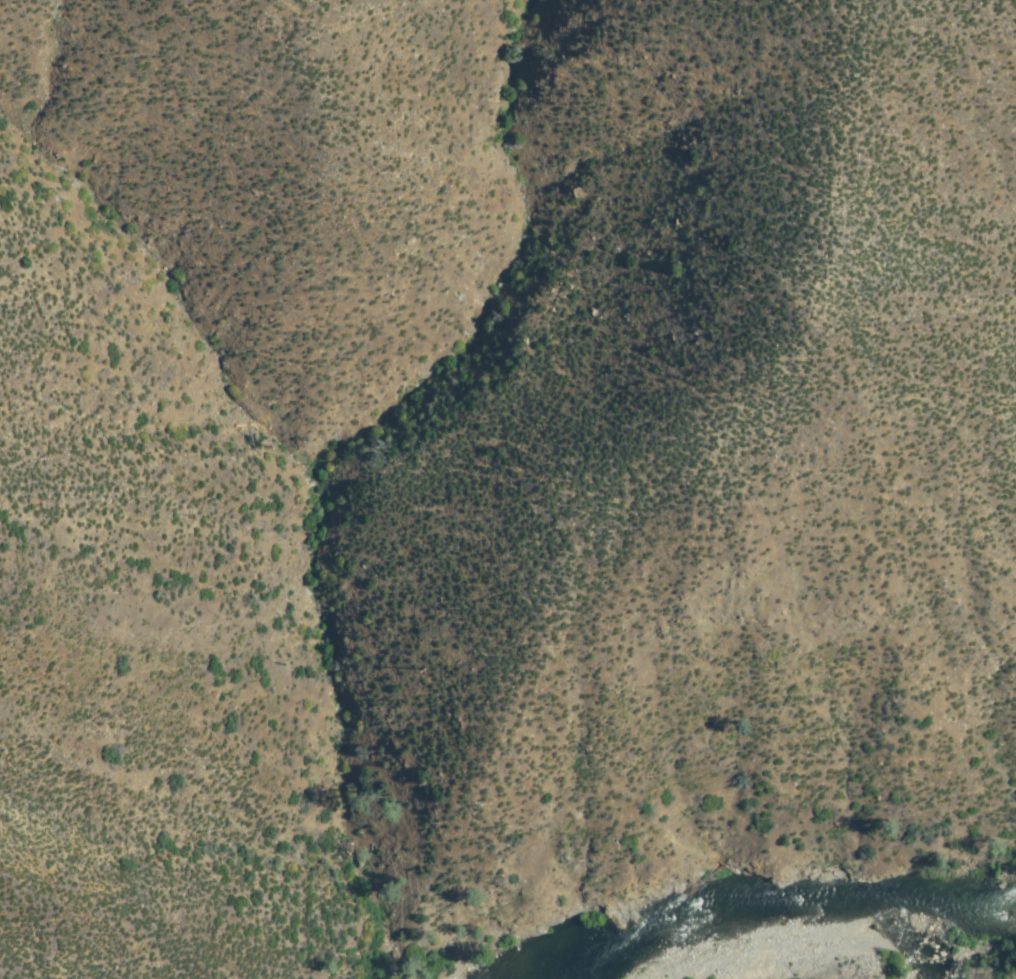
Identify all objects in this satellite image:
river: (774, 912)
river: (928, 942)

